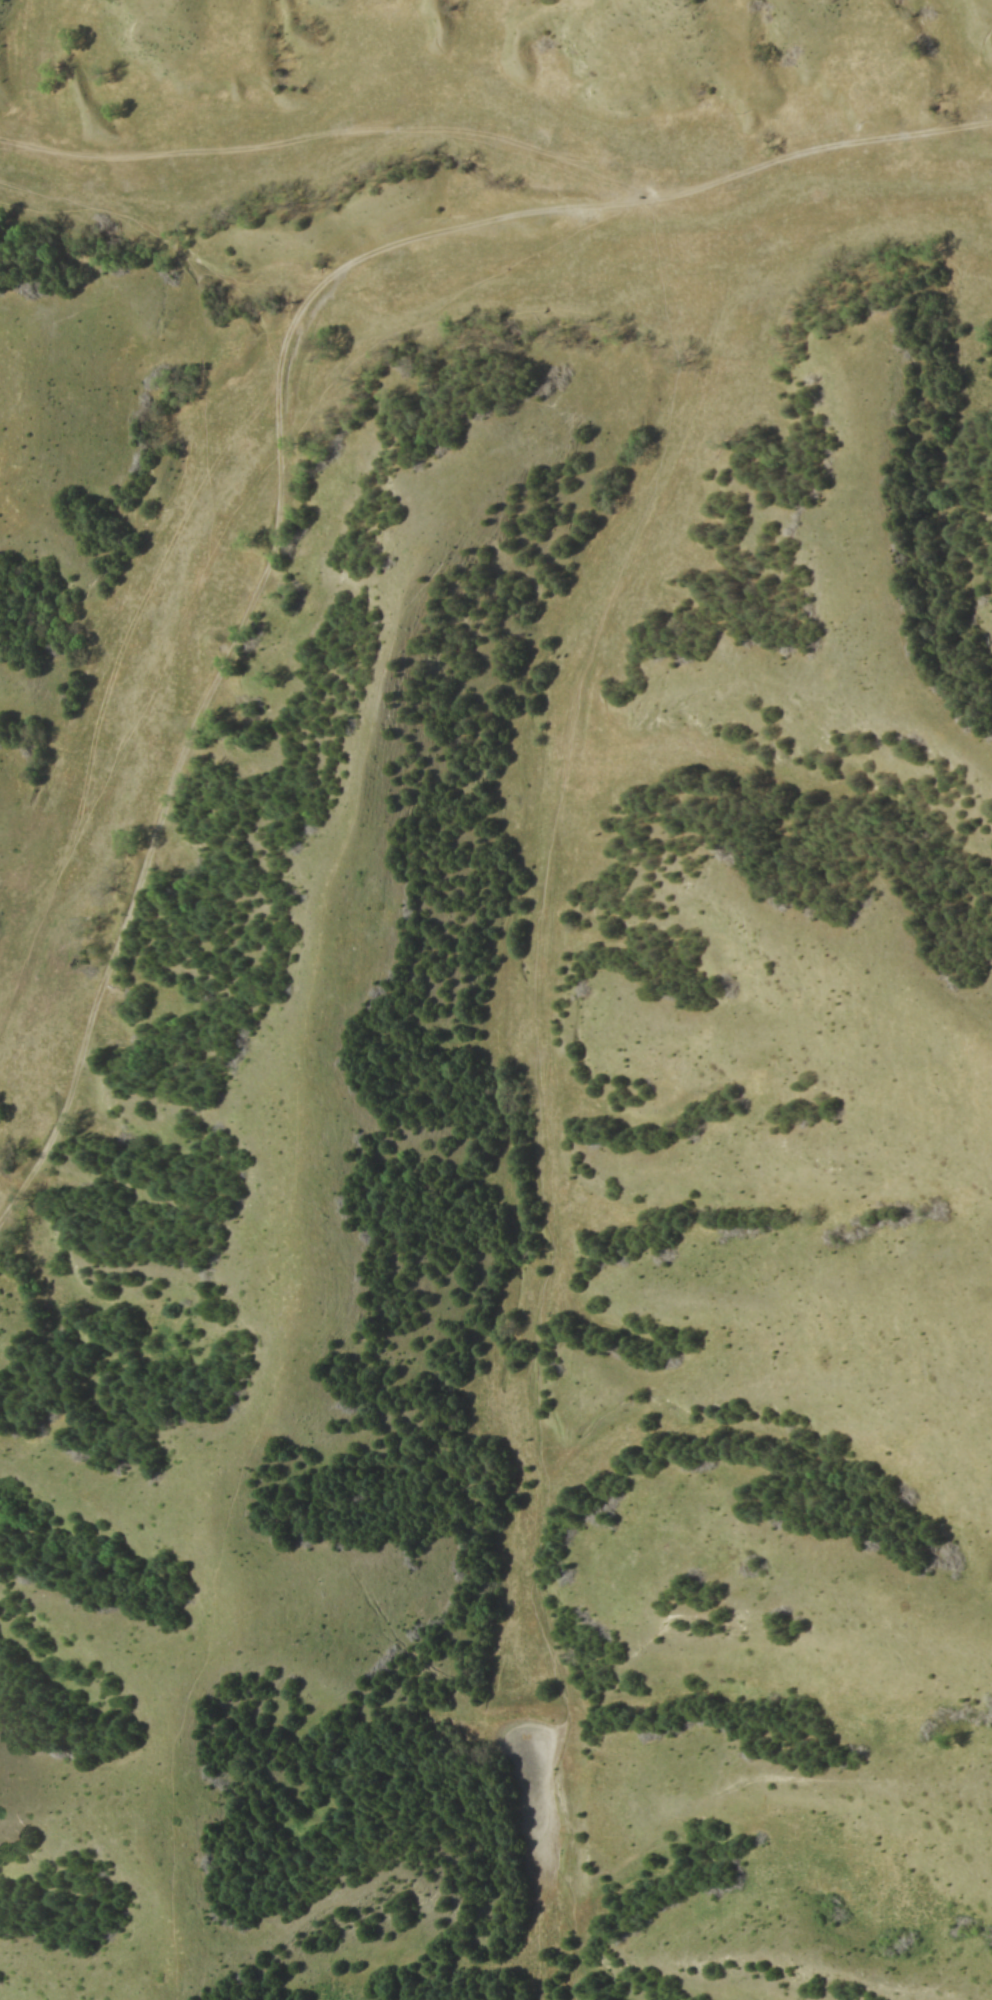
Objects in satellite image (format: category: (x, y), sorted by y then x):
road: (283, 428)

